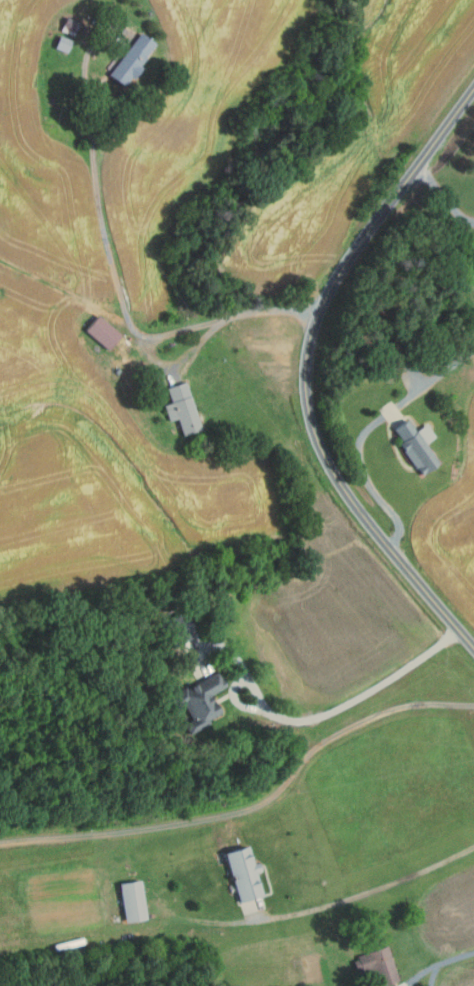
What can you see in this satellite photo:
building: (69, 26)
building: (63, 43)
building: (131, 61)
road: (95, 195)
road: (446, 201)
road: (467, 218)
road: (59, 296)
road: (238, 313)
road: (198, 343)
building: (395, 348)
building: (121, 358)
road: (306, 371)
building: (182, 408)
road: (365, 429)
building: (416, 446)
building: (177, 630)
building: (199, 702)
road: (322, 715)
road: (252, 805)
building: (244, 873)
road: (370, 892)
building: (131, 900)
road: (438, 965)
building: (377, 966)

